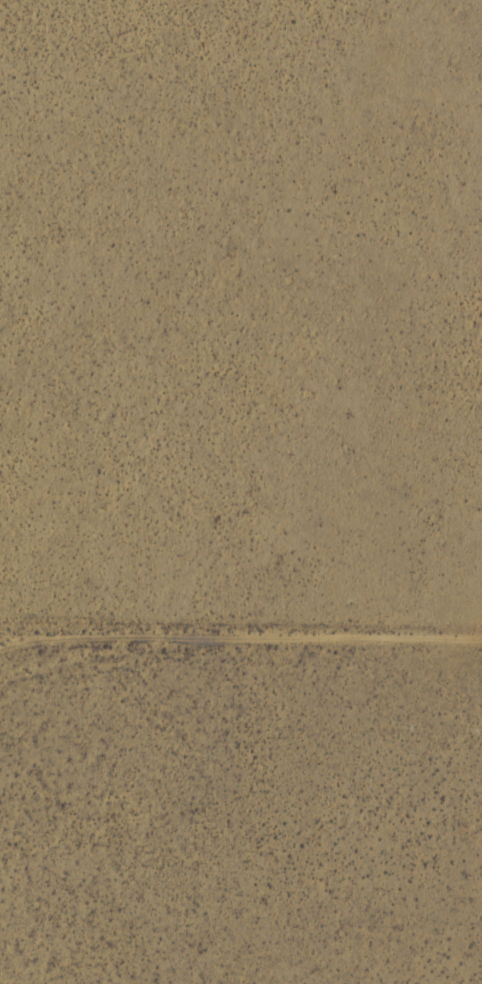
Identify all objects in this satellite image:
road: (241, 617)

